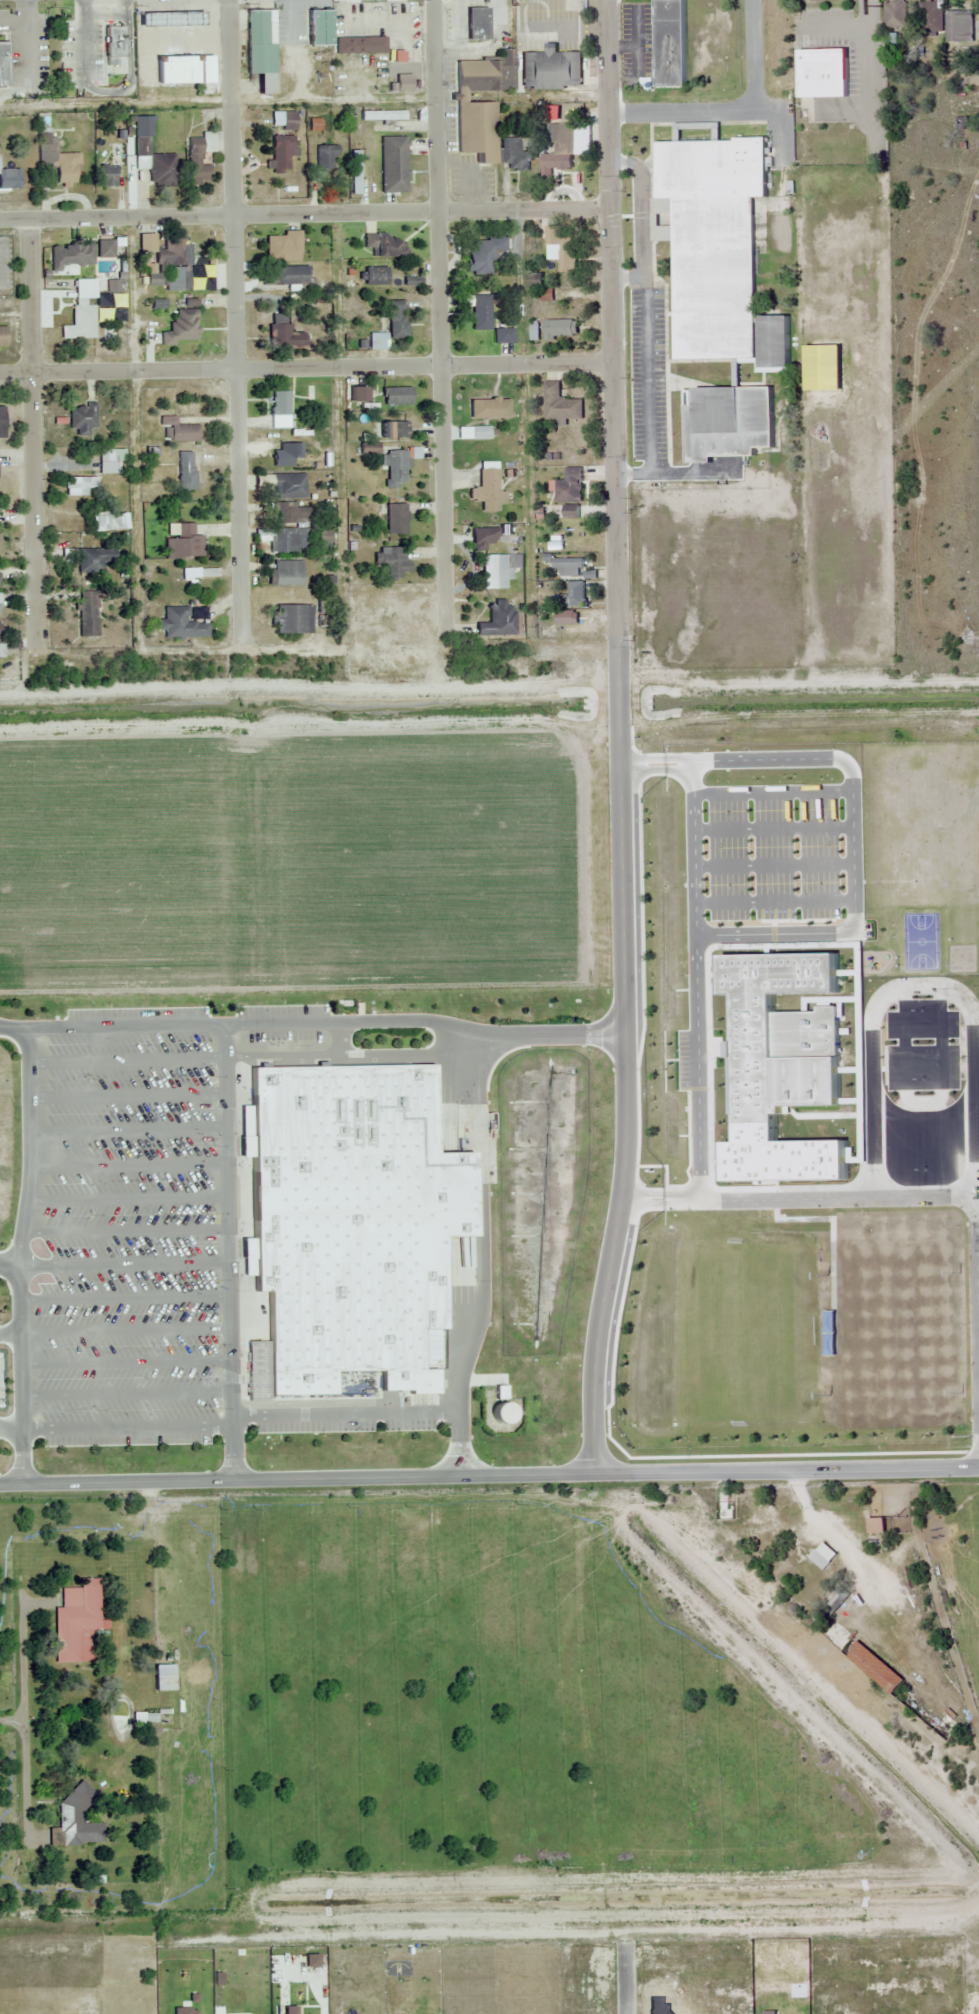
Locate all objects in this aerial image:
building: (895, 14)
building: (930, 18)
building: (169, 19)
building: (476, 24)
building: (959, 25)
building: (319, 27)
building: (669, 42)
building: (113, 44)
building: (360, 45)
building: (261, 49)
building: (3, 64)
building: (177, 69)
building: (550, 69)
building: (822, 73)
road: (763, 96)
building: (481, 104)
building: (288, 121)
building: (562, 146)
building: (282, 151)
building: (514, 155)
building: (199, 158)
building: (326, 158)
building: (57, 160)
building: (156, 164)
building: (393, 164)
building: (356, 172)
building: (105, 175)
building: (10, 179)
road: (305, 213)
building: (711, 238)
building: (384, 245)
building: (282, 247)
building: (560, 248)
building: (105, 249)
building: (484, 254)
building: (70, 257)
building: (168, 264)
building: (286, 276)
building: (375, 276)
building: (96, 286)
building: (481, 313)
building: (81, 321)
road: (235, 321)
road: (441, 321)
road: (614, 322)
building: (391, 326)
building: (181, 328)
building: (561, 329)
building: (283, 334)
building: (503, 334)
building: (2, 338)
building: (774, 342)
building: (821, 367)
road: (307, 372)
building: (357, 391)
building: (397, 396)
building: (560, 404)
building: (279, 409)
building: (490, 409)
building: (82, 419)
building: (728, 421)
building: (2, 422)
road: (38, 428)
building: (393, 430)
building: (177, 431)
building: (479, 433)
building: (286, 455)
building: (111, 461)
building: (395, 469)
building: (186, 471)
building: (81, 486)
building: (570, 486)
building: (288, 487)
building: (487, 491)
building: (570, 512)
building: (291, 513)
building: (396, 519)
building: (109, 522)
building: (486, 537)
building: (287, 540)
building: (184, 543)
building: (92, 560)
building: (392, 561)
building: (569, 566)
building: (500, 570)
building: (286, 573)
building: (575, 594)
building: (89, 614)
building: (564, 618)
building: (293, 619)
building: (498, 620)
building: (181, 625)
building: (1, 640)
road: (656, 764)
road: (772, 791)
road: (772, 827)
road: (852, 846)
road: (773, 865)
road: (774, 901)
road: (694, 980)
road: (313, 1021)
road: (972, 1059)
road: (127, 1061)
road: (625, 1063)
building: (780, 1065)
road: (128, 1096)
road: (128, 1131)
road: (129, 1165)
road: (797, 1198)
road: (128, 1199)
building: (351, 1223)
parking lot: (147, 1225)
road: (125, 1231)
road: (228, 1252)
road: (19, 1255)
road: (481, 1257)
road: (123, 1262)
road: (9, 1264)
road: (124, 1298)
road: (125, 1329)
road: (9, 1332)
road: (126, 1361)
road: (126, 1393)
road: (344, 1413)
road: (128, 1427)
road: (11, 1429)
road: (489, 1479)
building: (879, 1525)
building: (820, 1560)
building: (835, 1602)
building: (75, 1619)
building: (871, 1666)
building: (164, 1677)
building: (143, 1718)
building: (74, 1821)

